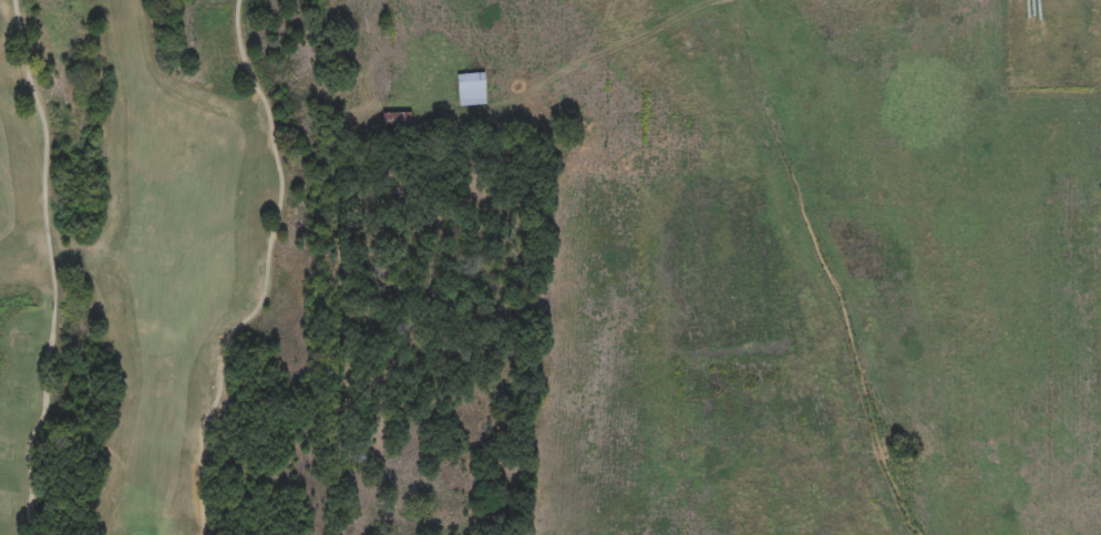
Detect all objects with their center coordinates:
building: (472, 90)
park: (155, 269)

